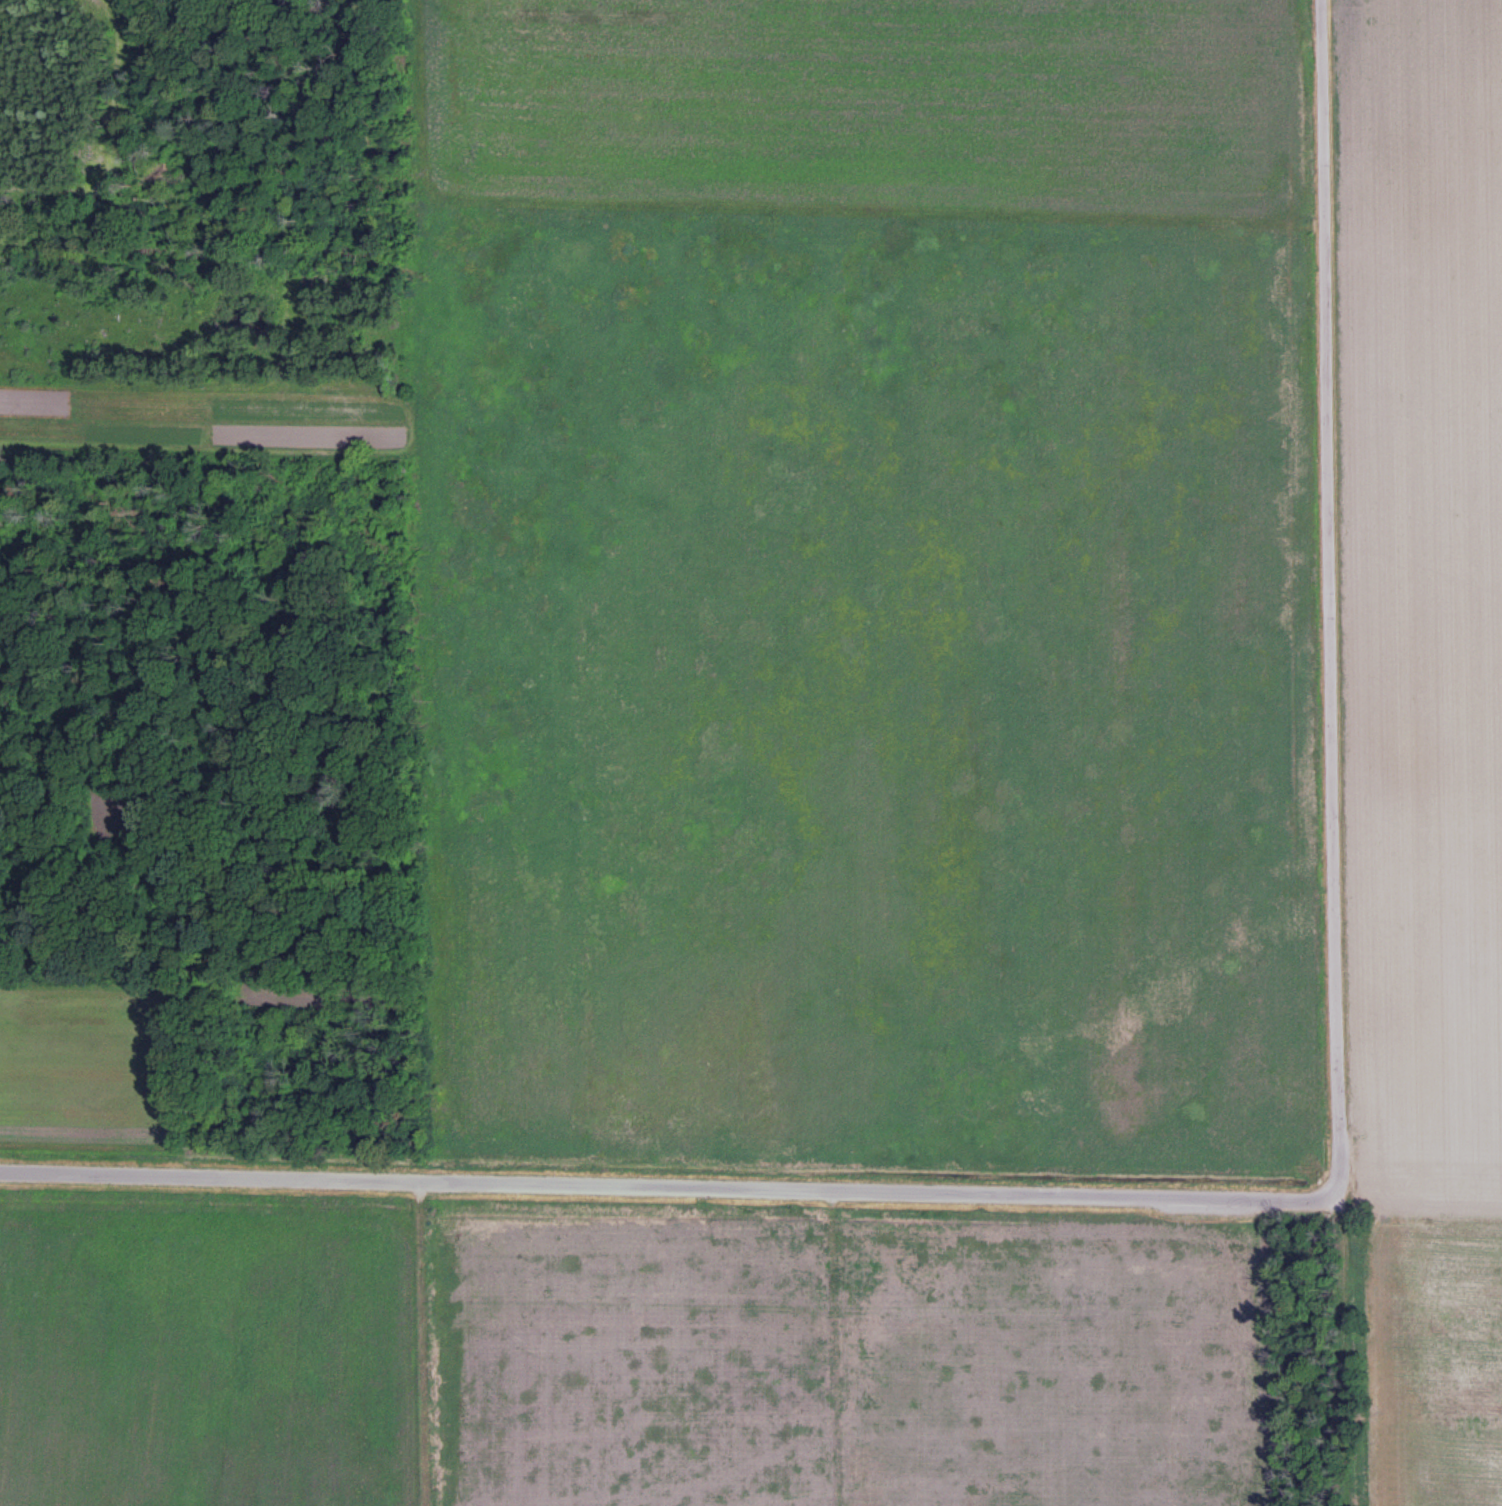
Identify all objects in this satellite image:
road: (1330, 596)
road: (668, 1184)
road: (1345, 1347)

